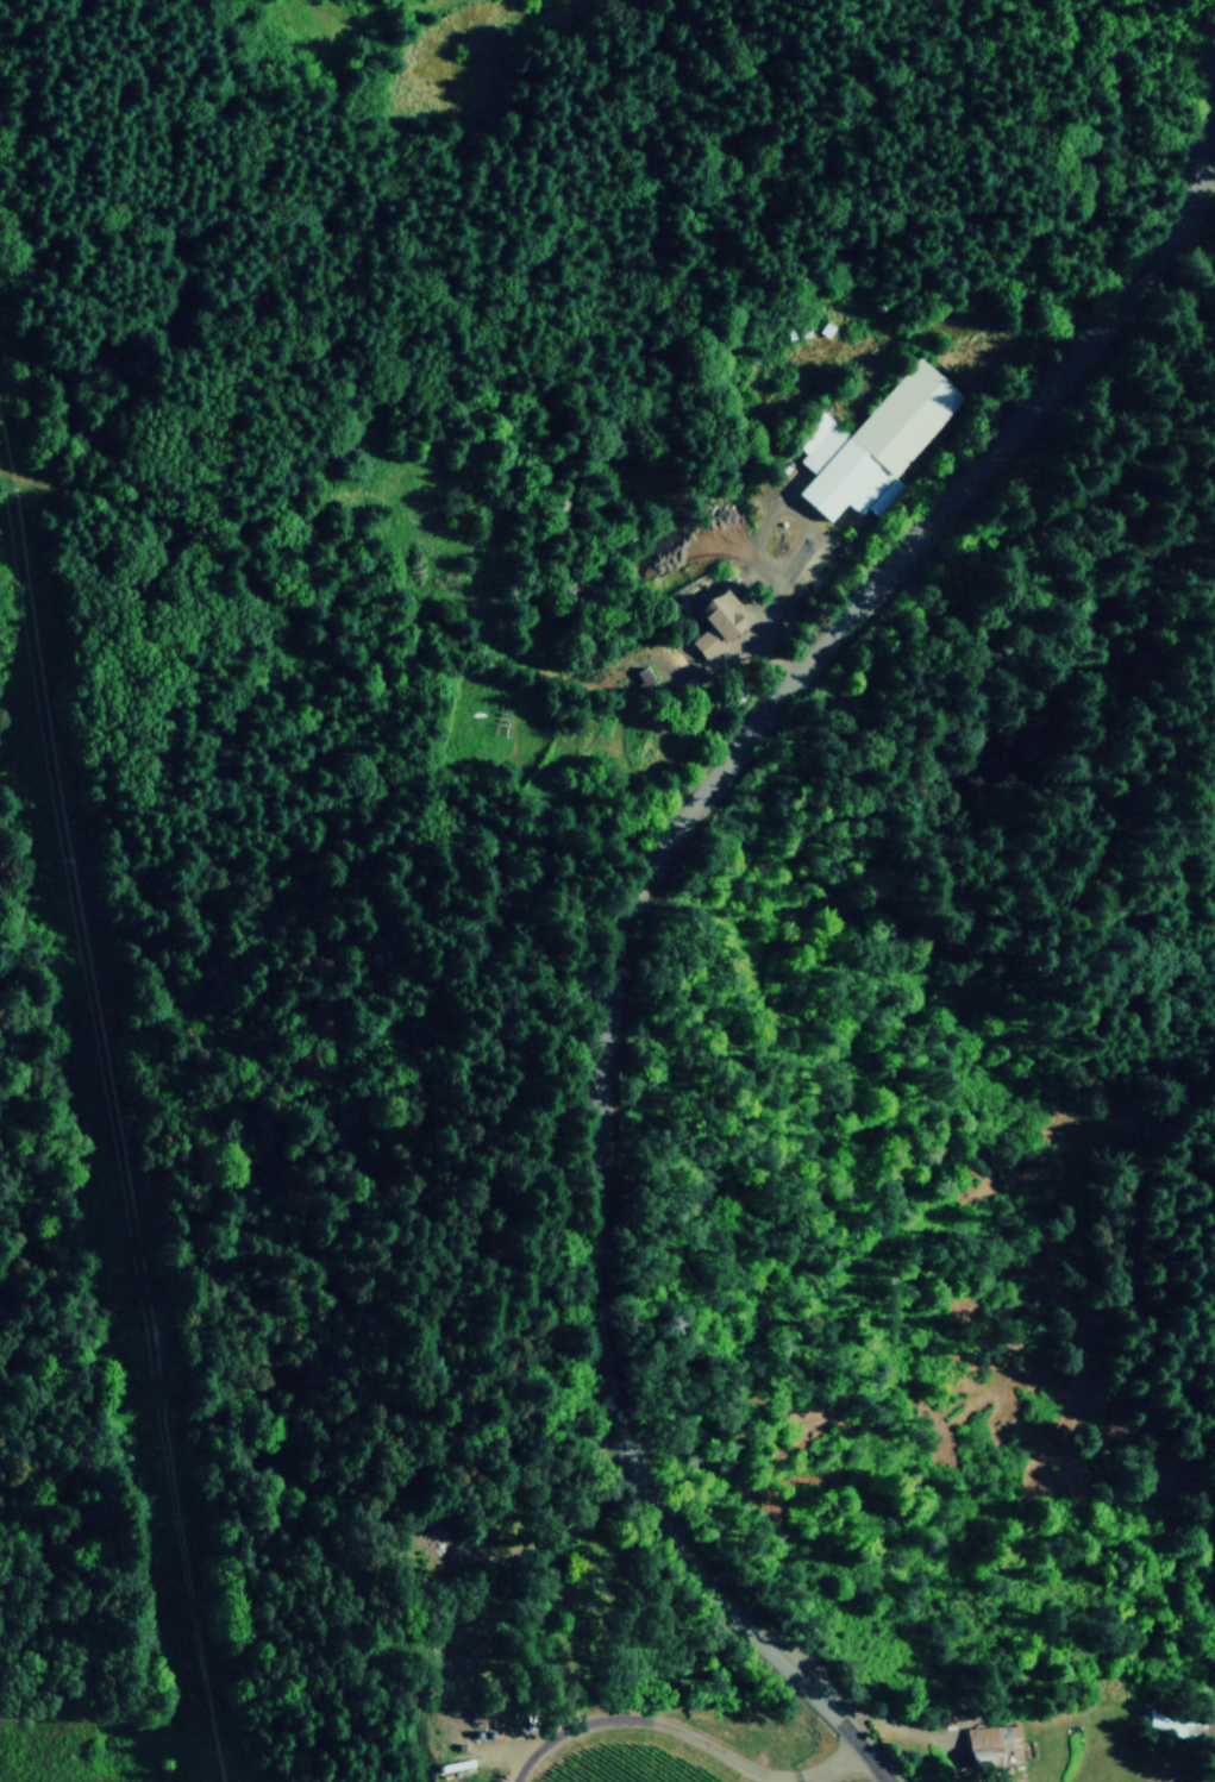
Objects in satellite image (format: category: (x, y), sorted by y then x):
building: (872, 443)
building: (716, 621)
road: (643, 887)
road: (691, 1734)

